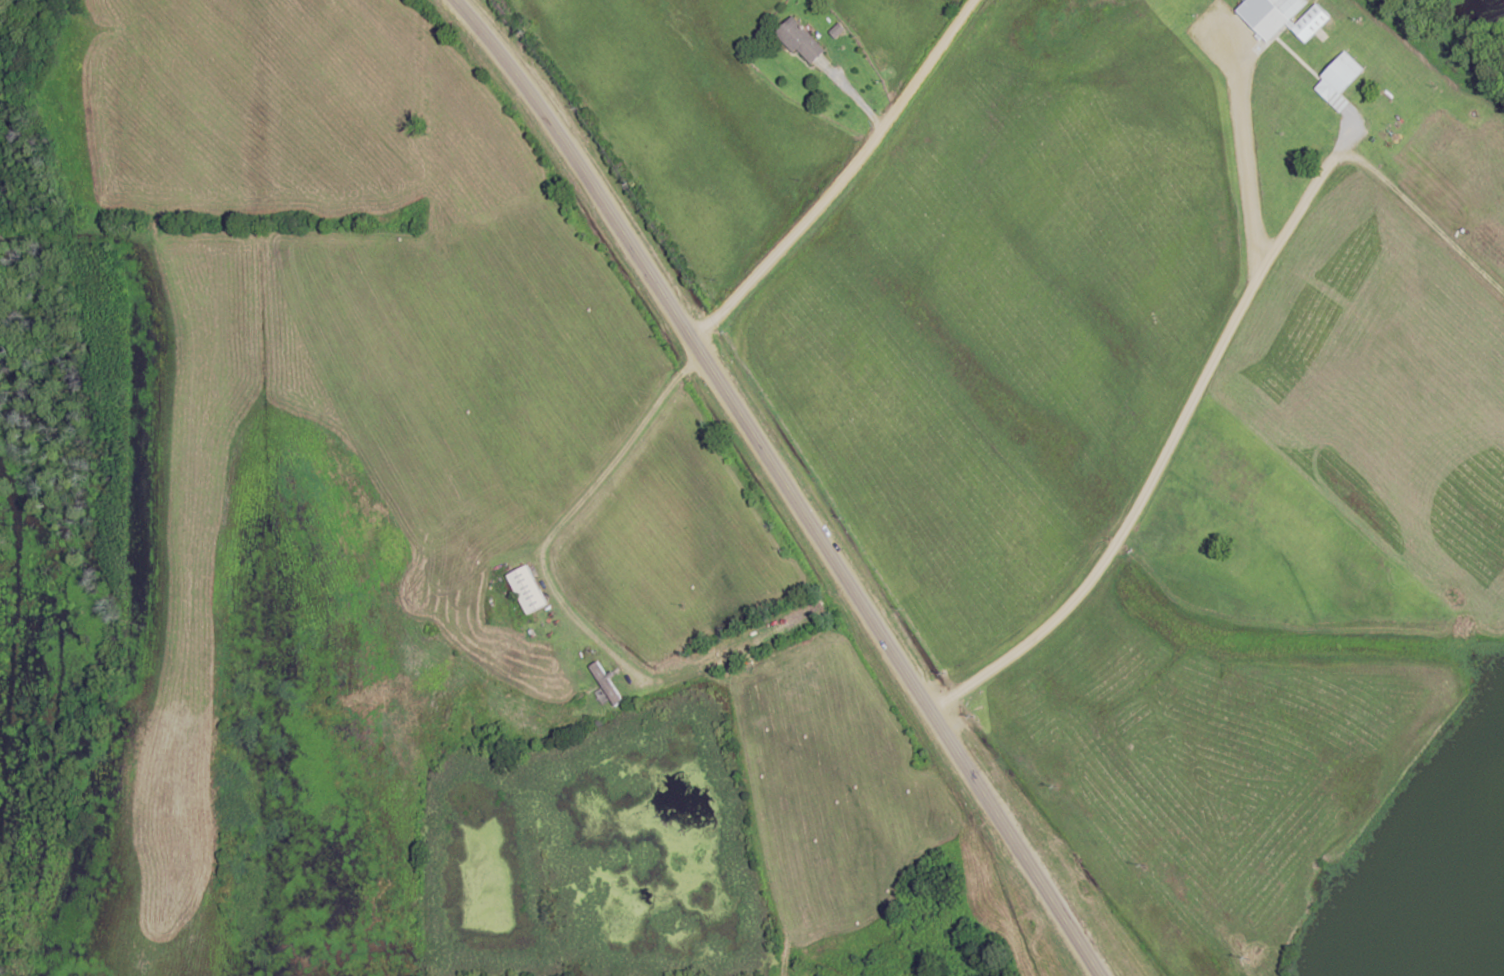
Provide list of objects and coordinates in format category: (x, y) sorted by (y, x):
building: (1270, 16)
building: (801, 40)
building: (1340, 81)
road: (842, 178)
road: (1170, 441)
road: (781, 485)
building: (528, 588)
building: (606, 683)

